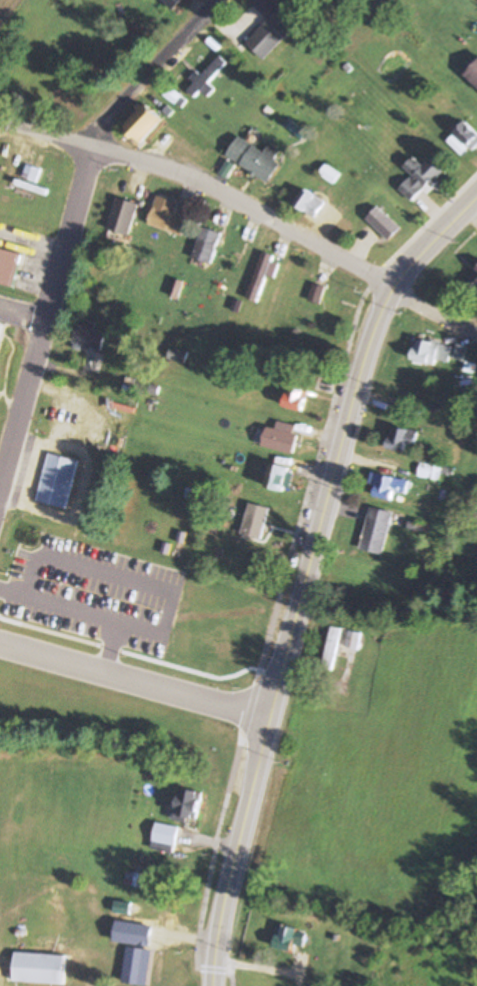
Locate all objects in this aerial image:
building: (171, 3)
building: (270, 28)
building: (472, 73)
building: (207, 76)
building: (142, 122)
building: (466, 134)
building: (255, 158)
building: (32, 173)
building: (329, 173)
building: (420, 177)
building: (310, 203)
road: (312, 205)
road: (248, 208)
building: (167, 215)
building: (123, 216)
road: (70, 227)
building: (206, 245)
building: (9, 265)
building: (476, 270)
building: (261, 275)
building: (177, 288)
building: (475, 289)
building: (317, 293)
building: (0, 325)
building: (89, 336)
building: (431, 351)
building: (461, 352)
building: (177, 354)
building: (296, 395)
building: (405, 407)
building: (282, 436)
building: (402, 438)
building: (280, 477)
building: (58, 481)
building: (389, 487)
building: (263, 518)
building: (376, 527)
road: (309, 573)
road: (133, 577)
road: (79, 607)
road: (269, 639)
building: (353, 639)
building: (334, 641)
road: (136, 675)
building: (187, 805)
building: (165, 834)
building: (134, 879)
building: (54, 923)
building: (289, 938)
building: (37, 968)

